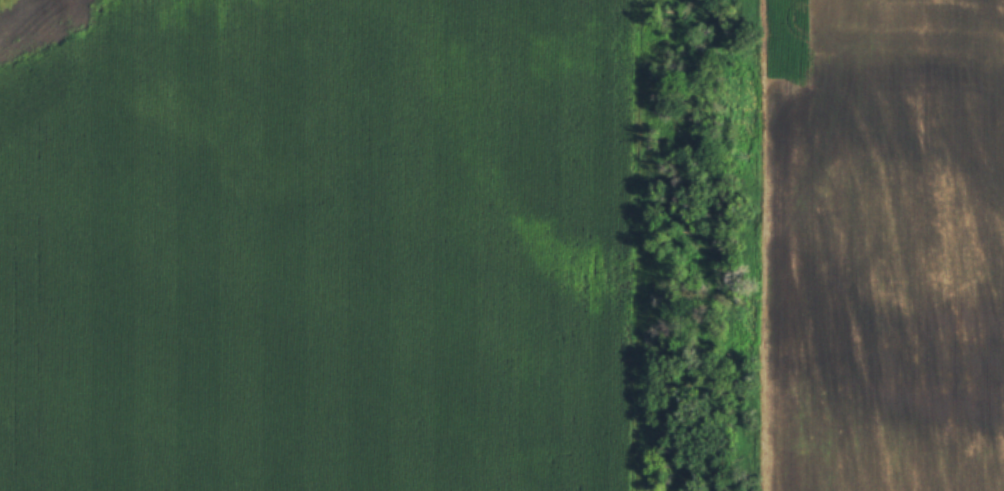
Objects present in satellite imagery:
crop: (882, 245)

